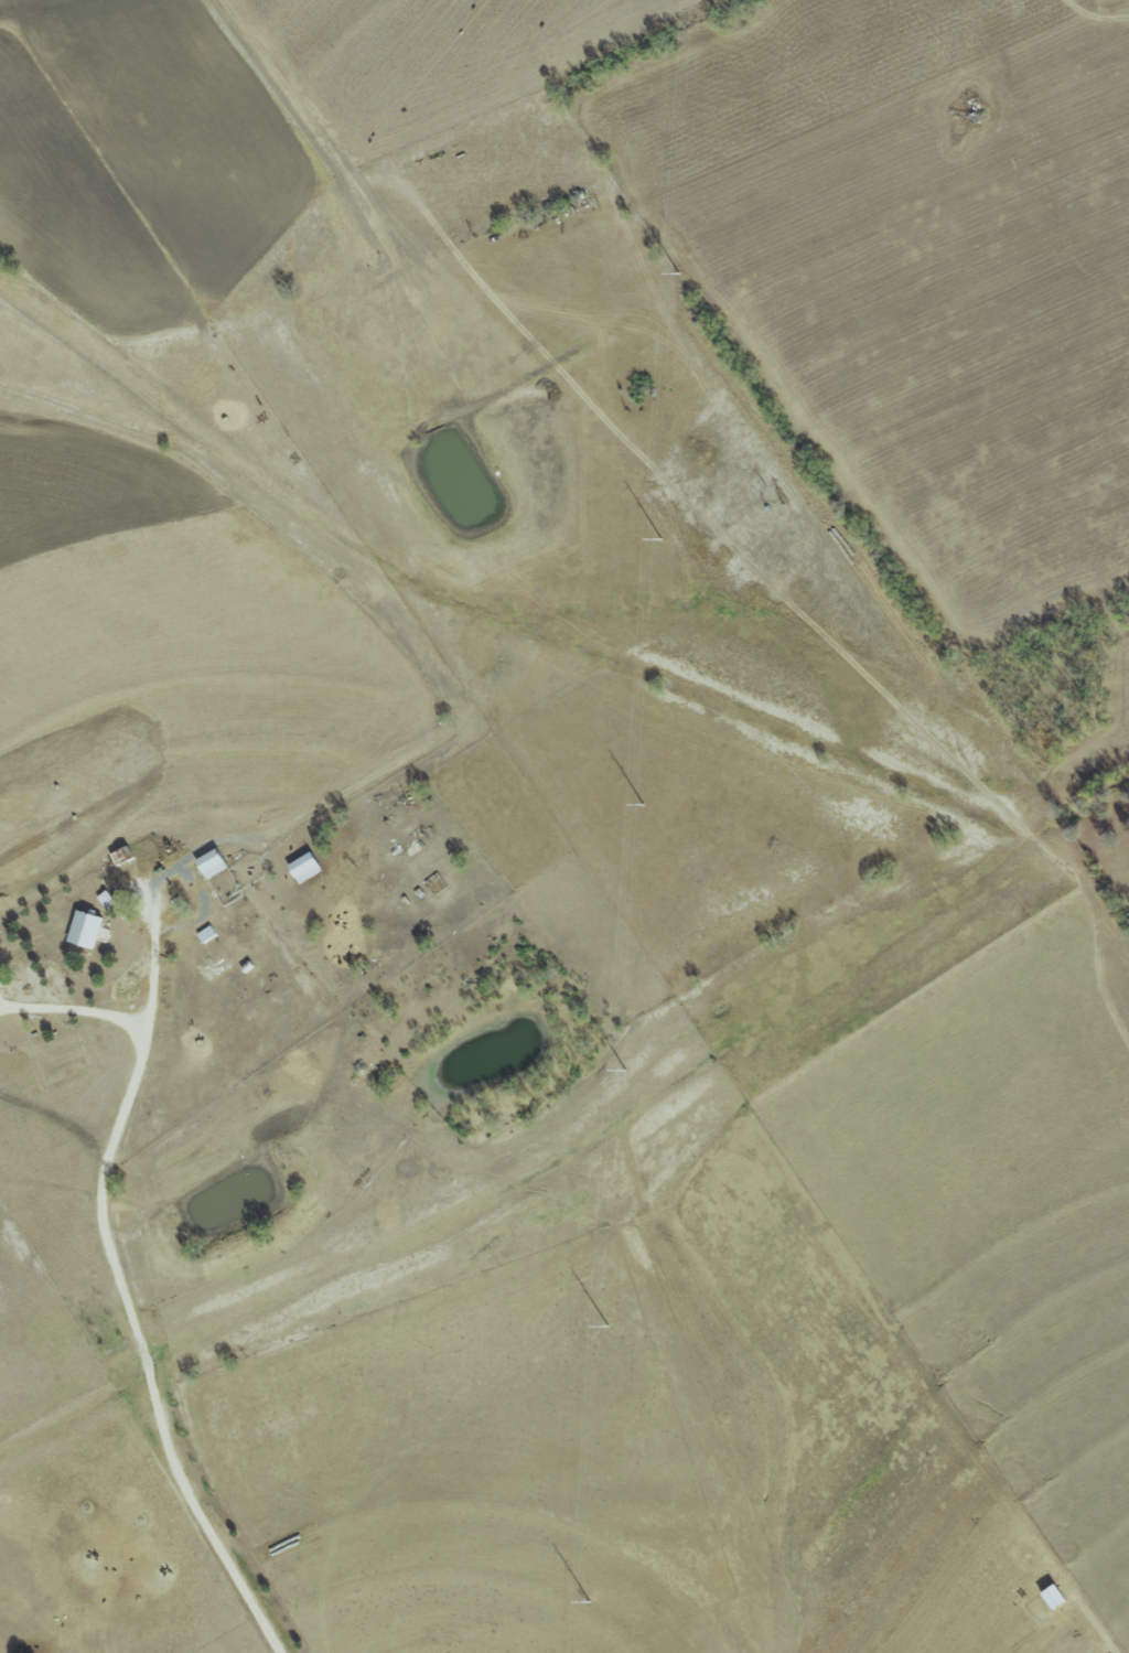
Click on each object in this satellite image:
power tower: (677, 273)
power tower: (660, 541)
power tower: (641, 806)
building: (214, 863)
building: (307, 867)
building: (87, 929)
building: (207, 934)
road: (75, 1008)
power tower: (624, 1072)
road: (109, 1247)
power tower: (605, 1327)
building: (1055, 1596)
power tower: (588, 1602)

